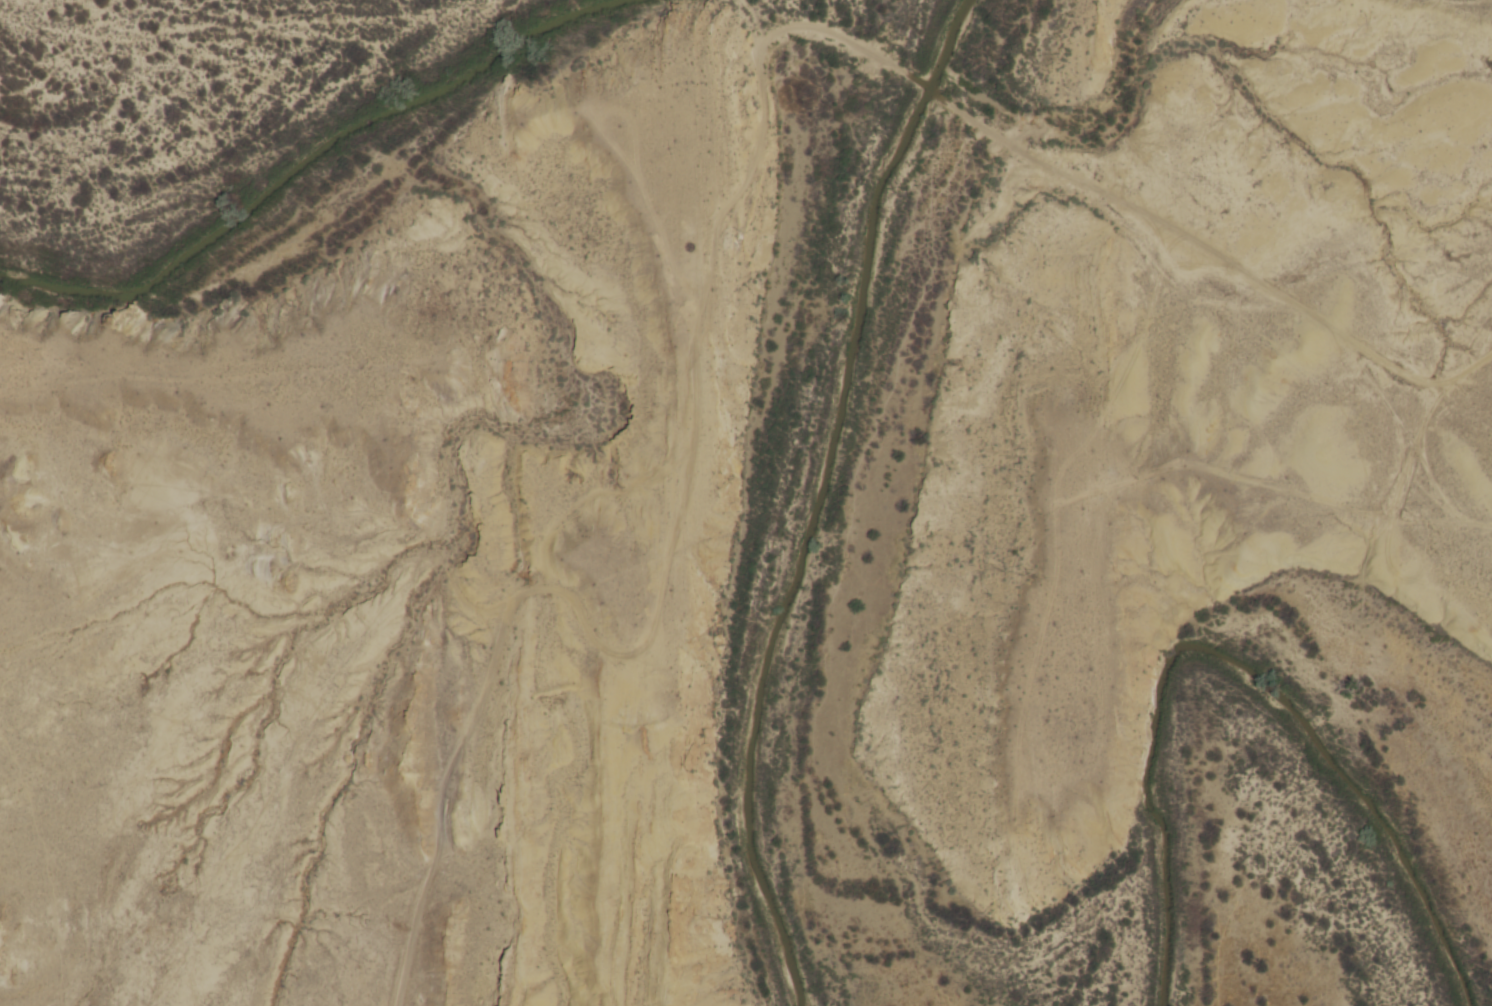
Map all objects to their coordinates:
river: (324, 167)
river: (827, 501)
river: (1242, 668)

